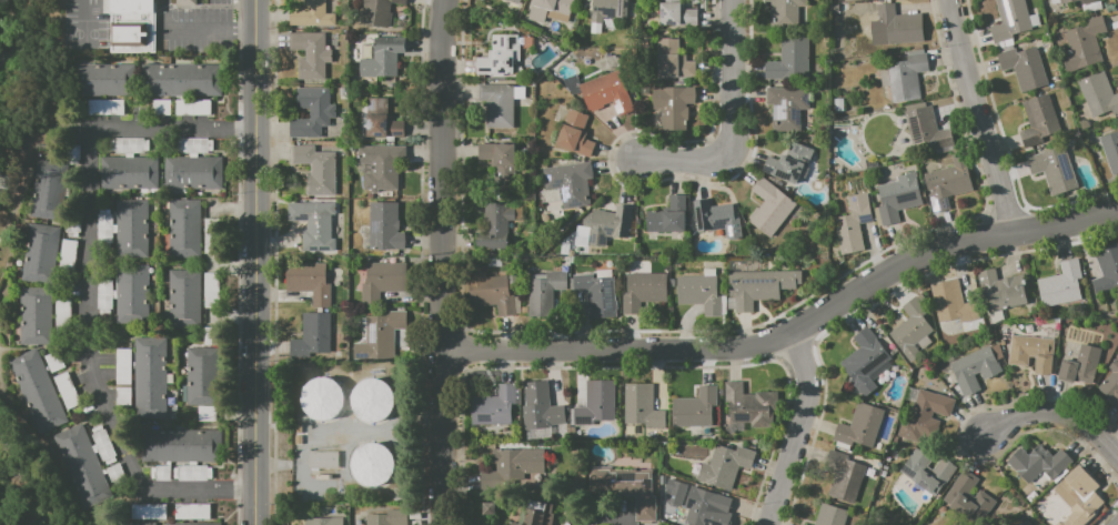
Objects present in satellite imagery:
building: (838, 0)
parking lot: (219, 1)
building: (514, 1)
building: (1066, 1)
building: (1088, 1)
building: (185, 2)
building: (131, 7)
building: (550, 10)
building: (607, 11)
building: (786, 11)
building: (377, 12)
building: (676, 13)
building: (312, 14)
building: (1010, 20)
building: (899, 26)
road: (195, 31)
parking lot: (199, 31)
building: (129, 33)
building: (1084, 44)
building: (310, 53)
building: (496, 57)
building: (383, 58)
building: (673, 59)
building: (789, 59)
building: (1024, 67)
building: (900, 79)
building: (105, 80)
building: (155, 80)
building: (181, 80)
building: (208, 80)
building: (342, 91)
building: (607, 93)
building: (1098, 94)
building: (500, 103)
building: (104, 105)
building: (673, 105)
building: (160, 107)
building: (192, 107)
building: (787, 107)
building: (312, 112)
road: (979, 117)
building: (379, 119)
road: (731, 120)
building: (1037, 120)
building: (927, 130)
building: (575, 133)
building: (129, 145)
building: (192, 145)
building: (352, 147)
building: (1110, 149)
building: (498, 160)
building: (788, 162)
building: (380, 165)
building: (1054, 169)
building: (316, 170)
building: (128, 173)
building: (179, 173)
building: (208, 173)
building: (571, 182)
building: (947, 182)
power tower: (3, 186)
building: (48, 189)
building: (897, 198)
building: (769, 206)
building: (184, 214)
building: (668, 215)
building: (713, 218)
building: (610, 223)
building: (853, 223)
building: (495, 224)
building: (314, 225)
building: (385, 226)
building: (103, 228)
building: (131, 229)
building: (211, 235)
building: (184, 243)
building: (39, 253)
building: (494, 261)
road: (256, 262)
road: (442, 262)
building: (1107, 269)
building: (382, 281)
building: (309, 282)
building: (184, 283)
building: (1060, 284)
building: (545, 287)
building: (757, 287)
road: (89, 290)
building: (211, 290)
building: (1001, 290)
building: (643, 291)
building: (701, 292)
building: (596, 293)
building: (104, 294)
building: (131, 294)
building: (492, 294)
building: (950, 301)
building: (184, 313)
building: (34, 315)
building: (62, 319)
building: (911, 330)
road: (792, 331)
building: (311, 335)
building: (210, 336)
building: (375, 340)
building: (1031, 352)
building: (868, 359)
building: (53, 360)
building: (201, 362)
building: (1079, 364)
building: (122, 366)
building: (974, 370)
building: (149, 376)
building: (1111, 383)
building: (37, 390)
building: (67, 391)
building: (201, 391)
building: (122, 396)
building: (321, 397)
storage tank: (323, 398)
building: (372, 400)
storage tank: (372, 400)
building: (596, 403)
building: (749, 405)
building: (494, 406)
building: (643, 406)
building: (542, 407)
building: (695, 407)
building: (928, 412)
road: (1060, 412)
building: (207, 413)
building: (859, 425)
road: (797, 428)
road: (335, 432)
building: (103, 444)
building: (155, 445)
building: (181, 445)
building: (205, 445)
building: (323, 460)
building: (1038, 462)
building: (372, 464)
storage tank: (373, 464)
building: (81, 465)
building: (524, 466)
building: (725, 466)
building: (114, 472)
building: (927, 472)
building: (160, 473)
building: (192, 473)
building: (844, 475)
building: (340, 486)
building: (625, 487)
building: (1079, 496)
building: (968, 497)
building: (706, 507)
building: (148, 511)
building: (192, 511)
road: (607, 513)
building: (540, 515)
building: (830, 515)
building: (384, 519)
building: (322, 521)
building: (205, 523)
building: (1027, 523)
building: (129, 524)
building: (178, 524)
building: (804, 524)

